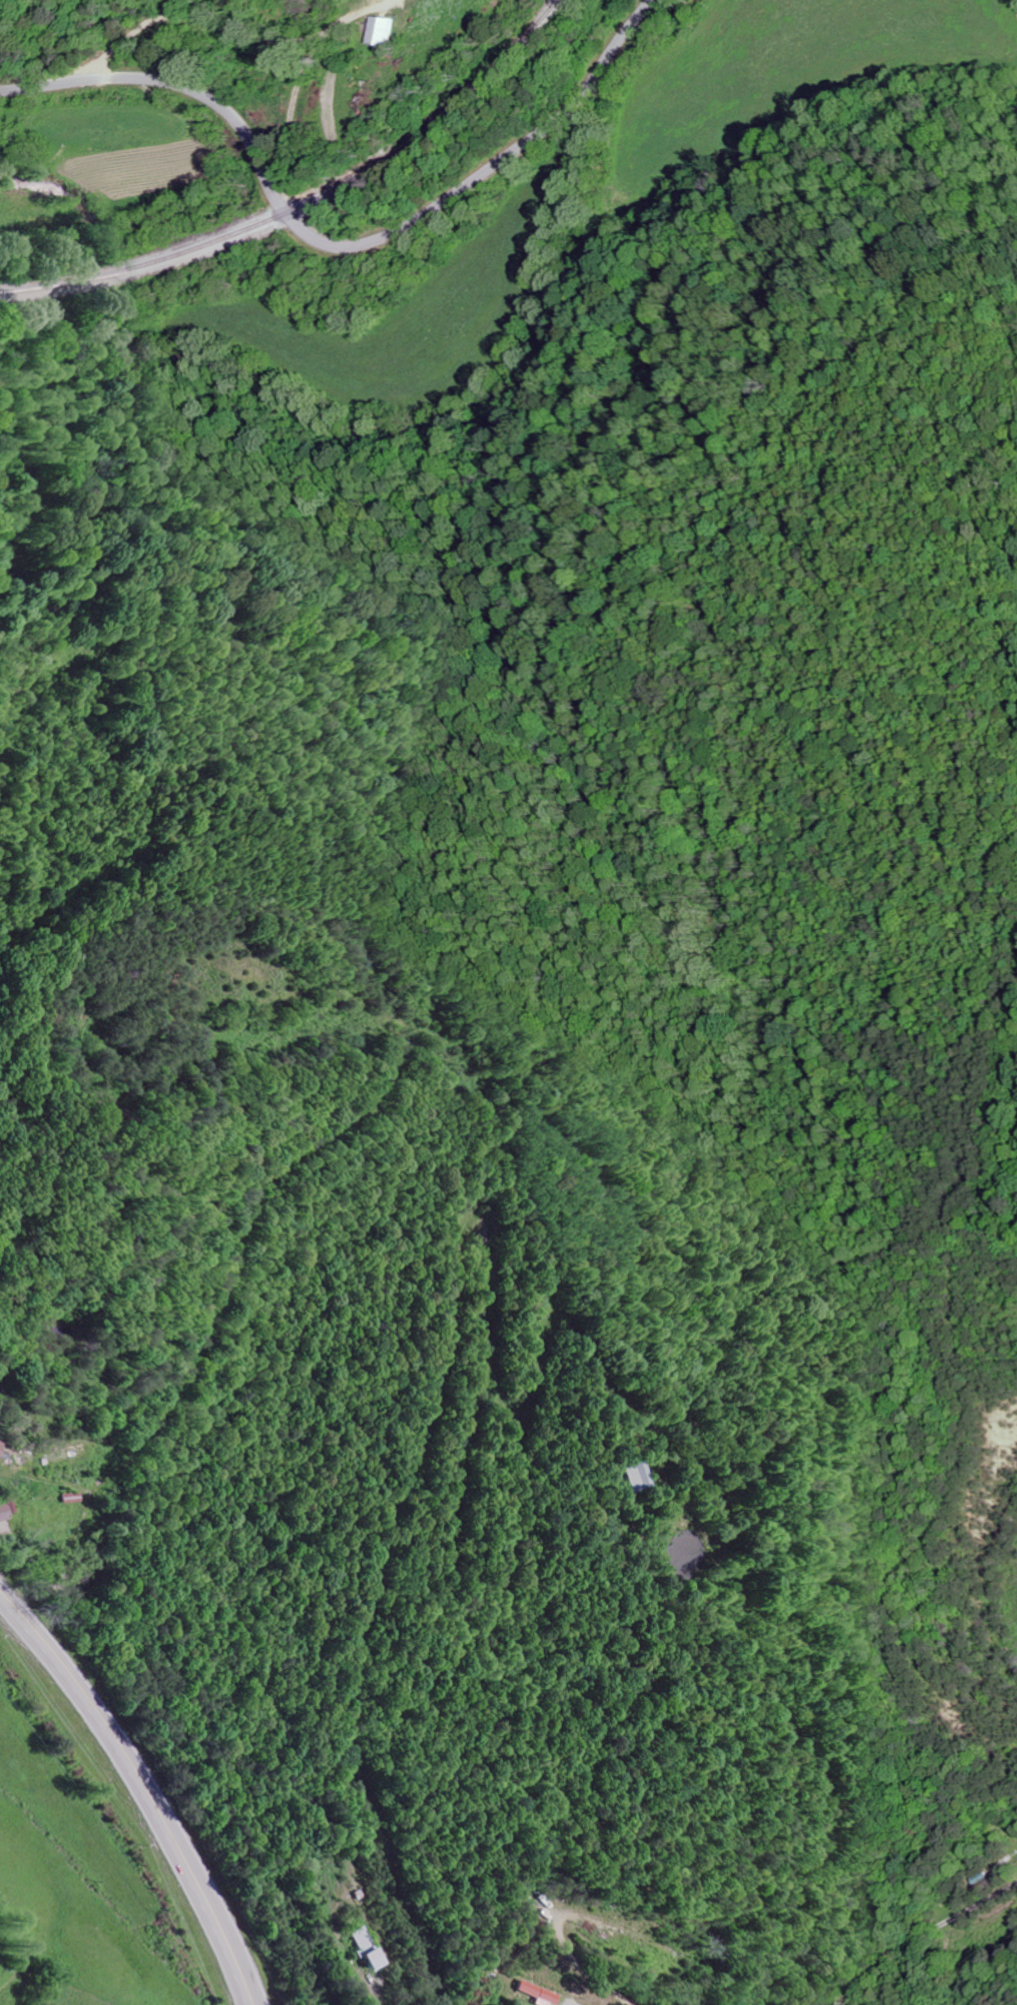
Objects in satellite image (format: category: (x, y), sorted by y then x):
road: (220, 23)
building: (377, 31)
road: (291, 117)
railway: (303, 197)
road: (334, 246)
building: (631, 1476)
building: (7, 1509)
road: (145, 1786)
road: (920, 1935)
building: (362, 1947)
building: (533, 1992)

